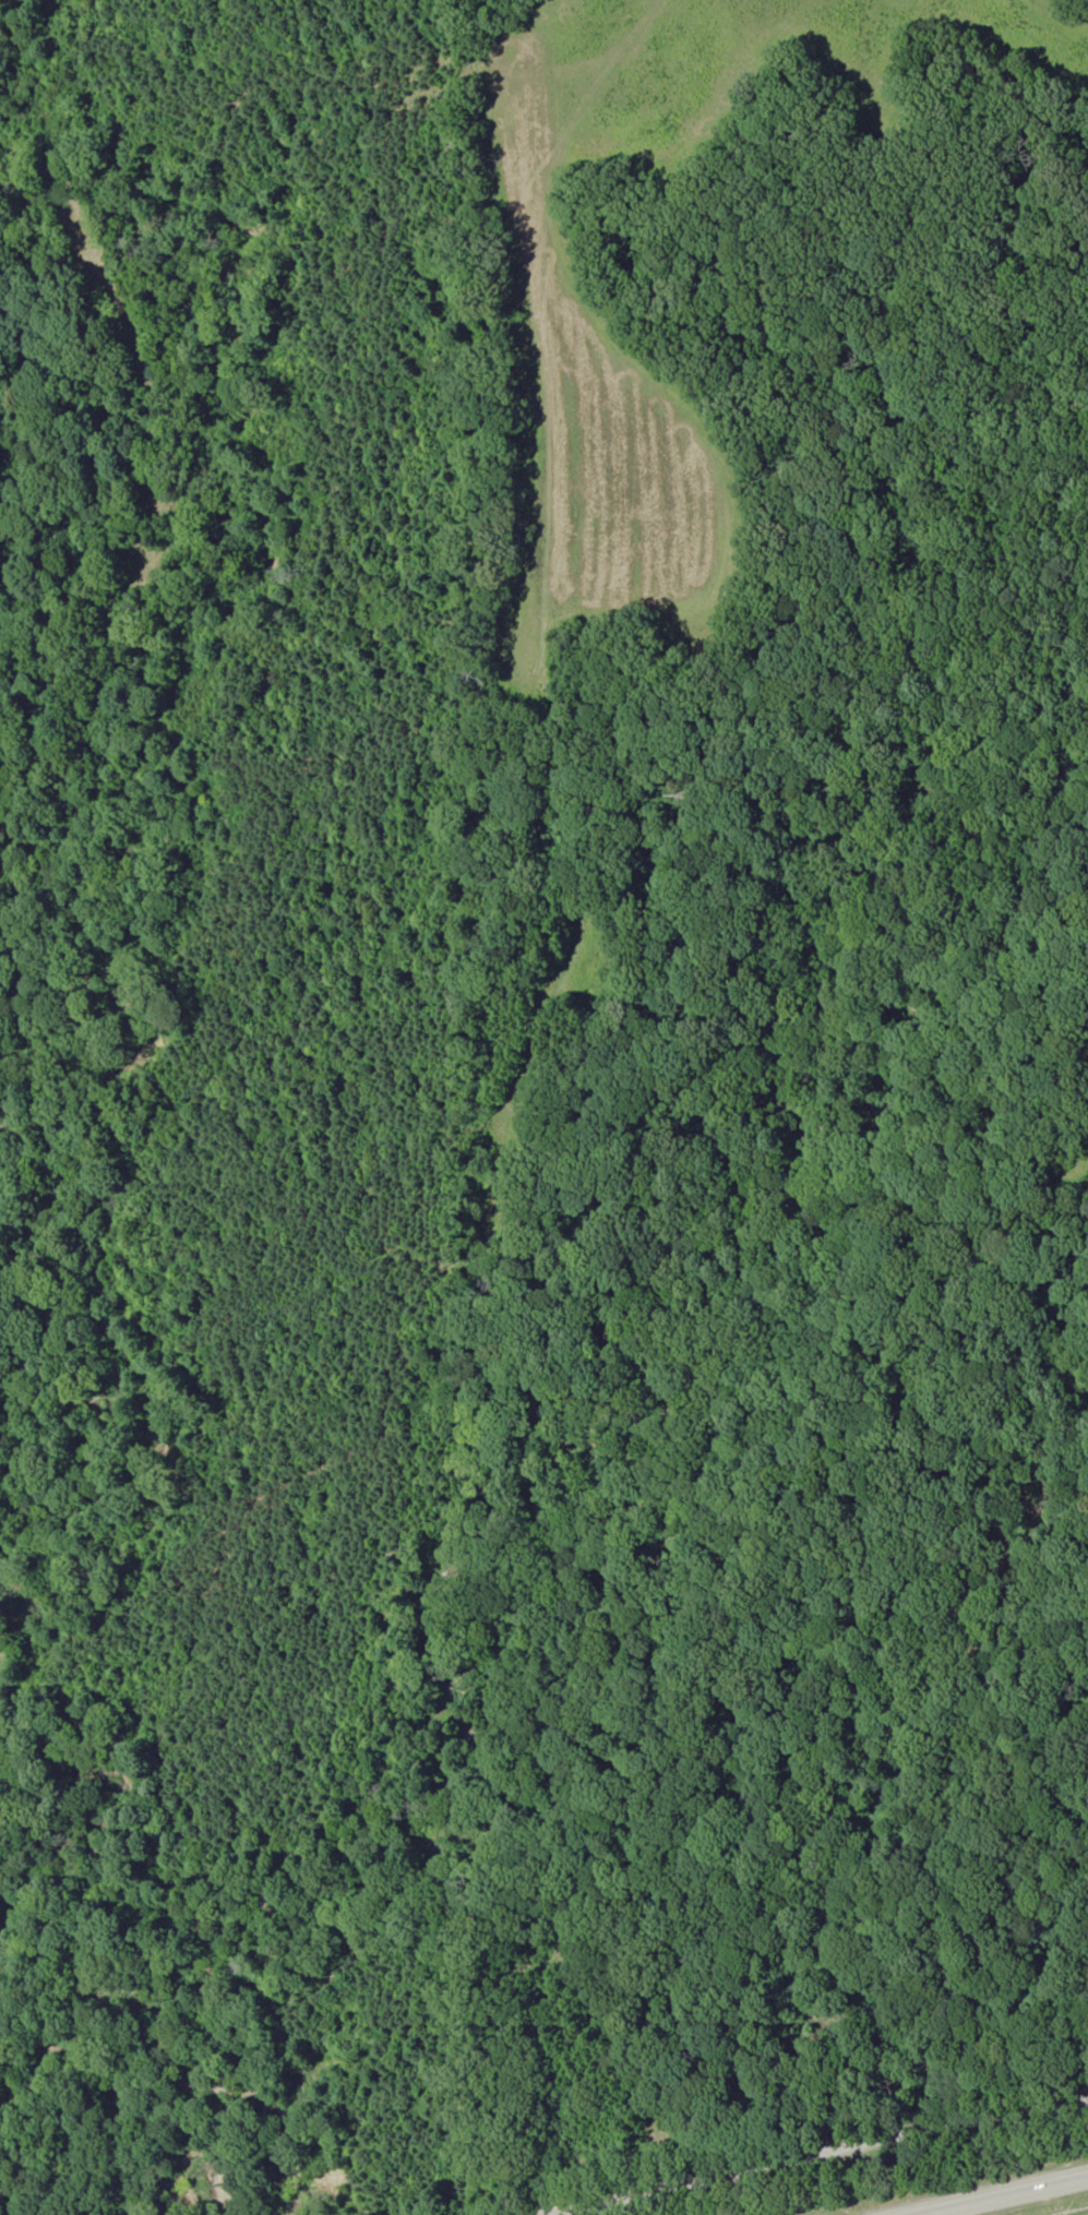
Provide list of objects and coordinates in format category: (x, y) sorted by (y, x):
road: (817, 2153)
road: (1009, 2198)

